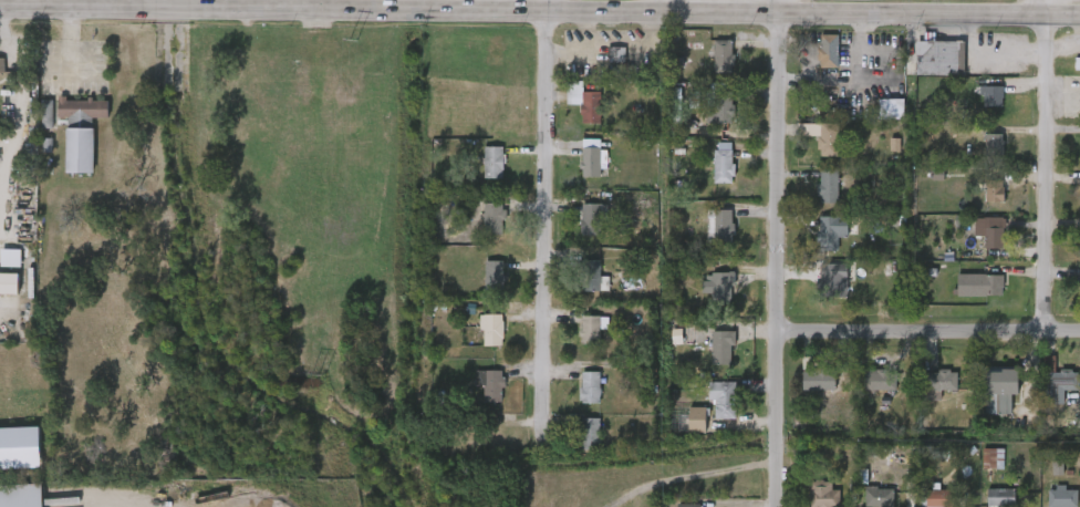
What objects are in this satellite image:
road: (75, 4)
road: (320, 7)
road: (37, 9)
road: (548, 10)
road: (166, 11)
road: (770, 11)
road: (289, 13)
road: (391, 15)
road: (505, 19)
road: (616, 20)
road: (729, 21)
road: (926, 23)
road: (70, 42)
building: (827, 51)
building: (721, 56)
building: (938, 59)
building: (615, 61)
building: (1077, 64)
building: (1, 66)
road: (840, 76)
building: (990, 96)
building: (589, 107)
building: (721, 107)
building: (892, 110)
building: (46, 114)
building: (81, 131)
building: (827, 141)
building: (994, 142)
building: (590, 163)
building: (492, 164)
building: (721, 164)
road: (1046, 165)
building: (827, 186)
building: (993, 192)
building: (492, 220)
building: (590, 220)
road: (546, 221)
building: (719, 231)
building: (830, 232)
building: (989, 232)
building: (10, 258)
road: (777, 263)
building: (492, 277)
building: (589, 277)
building: (835, 281)
building: (9, 282)
building: (716, 287)
building: (979, 287)
road: (927, 330)
building: (490, 331)
building: (588, 331)
building: (721, 349)
building: (1058, 379)
building: (818, 381)
building: (879, 381)
building: (939, 382)
building: (844, 383)
building: (999, 383)
building: (488, 385)
building: (589, 387)
building: (723, 401)
building: (697, 420)
building: (490, 434)
building: (589, 435)
building: (20, 448)
building: (993, 459)
building: (21, 495)
building: (822, 495)
building: (879, 498)
building: (941, 498)
building: (999, 498)
building: (1061, 498)
building: (686, 506)

